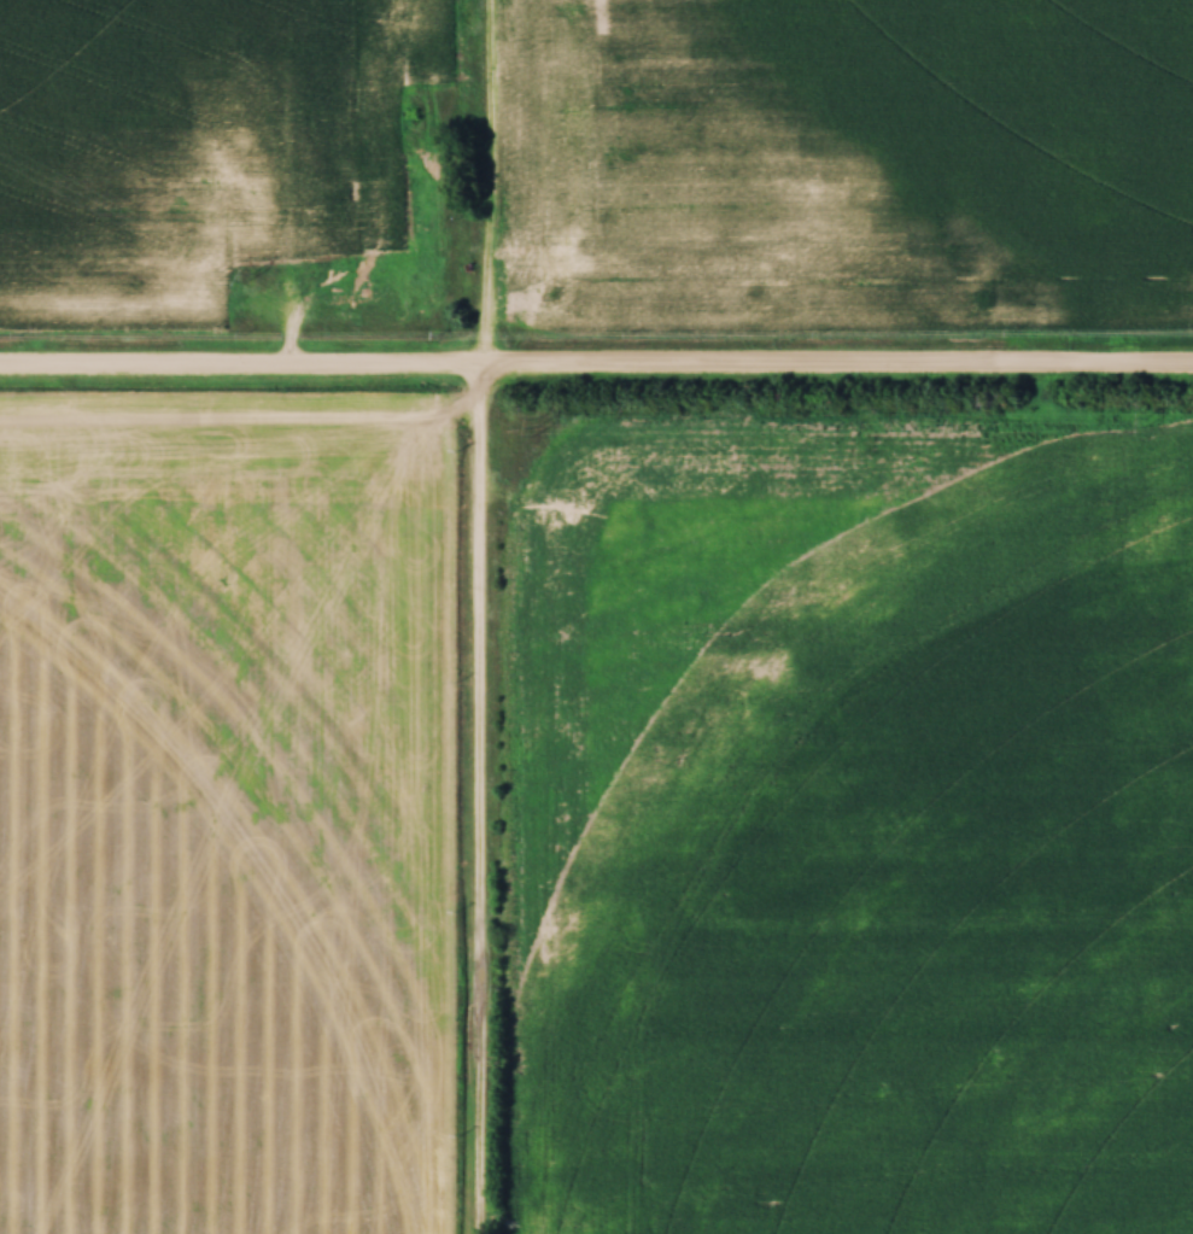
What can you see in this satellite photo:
road: (596, 364)
road: (480, 616)

